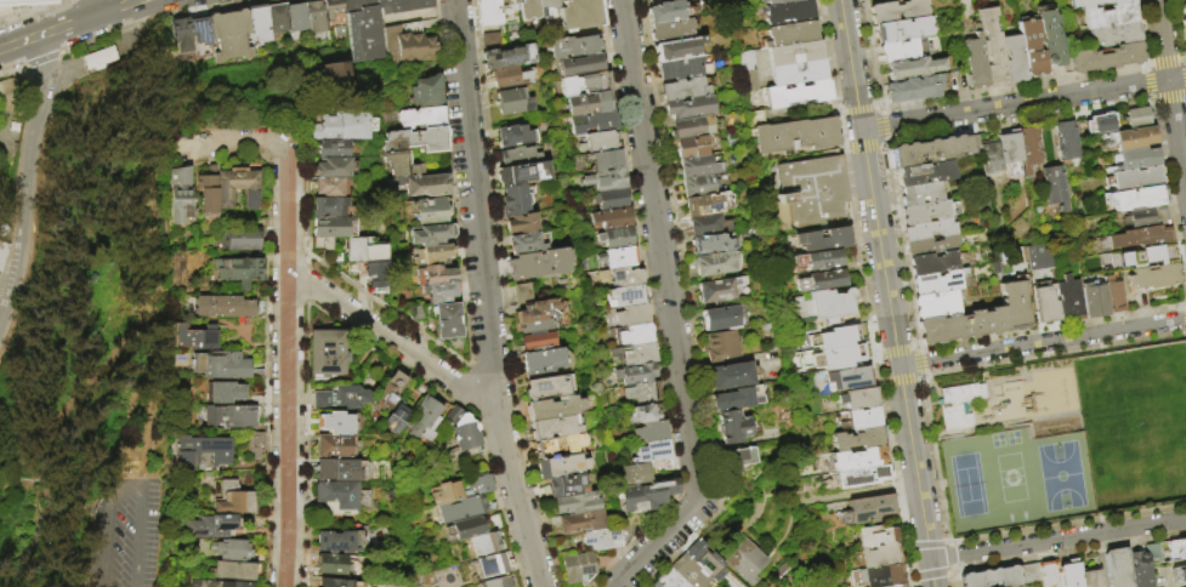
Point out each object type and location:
building: (19, 1)
building: (515, 1)
building: (657, 1)
building: (774, 1)
parking lot: (878, 1)
building: (549, 4)
building: (1095, 4)
road: (93, 7)
road: (27, 8)
building: (529, 8)
building: (896, 10)
building: (668, 11)
building: (488, 12)
building: (788, 12)
building: (580, 15)
building: (335, 16)
building: (1110, 17)
road: (155, 18)
building: (299, 18)
building: (318, 18)
building: (279, 19)
building: (1184, 21)
road: (68, 23)
building: (374, 23)
building: (260, 24)
road: (1178, 28)
building: (902, 29)
building: (671, 30)
road: (1140, 30)
building: (203, 33)
building: (791, 34)
building: (1116, 34)
building: (183, 35)
building: (232, 35)
road: (1162, 39)
building: (1049, 40)
building: (490, 41)
building: (410, 45)
building: (1031, 46)
building: (578, 47)
building: (992, 47)
building: (677, 49)
building: (904, 50)
building: (1185, 51)
building: (795, 53)
road: (1182, 56)
building: (98, 57)
road: (1185, 57)
building: (507, 58)
building: (1012, 58)
building: (1106, 58)
road: (41, 59)
road: (1164, 59)
building: (974, 62)
road: (1145, 64)
building: (583, 65)
road: (1185, 65)
building: (682, 68)
building: (912, 68)
road: (12, 70)
building: (747, 72)
building: (799, 73)
building: (335, 78)
building: (510, 78)
road: (1176, 78)
road: (1147, 82)
building: (588, 84)
building: (685, 89)
building: (912, 90)
building: (429, 91)
building: (799, 95)
road: (1185, 95)
road: (955, 96)
road: (1169, 98)
road: (1151, 101)
building: (513, 102)
building: (591, 104)
road: (1014, 104)
building: (690, 108)
road: (856, 109)
road: (880, 112)
building: (424, 116)
building: (1139, 116)
building: (754, 119)
road: (1017, 119)
building: (595, 122)
road: (883, 125)
building: (1097, 125)
building: (342, 126)
building: (691, 127)
building: (17, 135)
building: (517, 135)
building: (795, 135)
road: (1176, 135)
building: (1134, 137)
building: (430, 139)
building: (1066, 139)
building: (975, 142)
building: (16, 143)
building: (601, 143)
road: (228, 144)
building: (693, 146)
road: (863, 146)
building: (397, 147)
building: (339, 148)
building: (1029, 148)
building: (1010, 149)
building: (930, 150)
building: (520, 156)
building: (992, 156)
building: (1136, 158)
building: (606, 161)
building: (699, 165)
building: (335, 167)
building: (409, 170)
building: (924, 172)
building: (523, 173)
building: (180, 177)
building: (1135, 178)
road: (27, 179)
building: (607, 179)
building: (426, 183)
building: (700, 186)
building: (237, 187)
building: (329, 187)
building: (1055, 187)
building: (807, 190)
building: (181, 193)
building: (920, 193)
building: (208, 194)
building: (1137, 196)
building: (517, 199)
building: (613, 199)
building: (707, 204)
building: (329, 207)
building: (182, 211)
building: (433, 211)
building: (925, 211)
building: (1146, 217)
building: (615, 220)
building: (522, 224)
building: (708, 224)
building: (333, 227)
building: (4, 229)
building: (929, 229)
building: (435, 234)
building: (1137, 238)
building: (242, 239)
building: (618, 239)
building: (824, 239)
building: (529, 243)
building: (322, 244)
building: (713, 244)
road: (900, 244)
building: (934, 245)
building: (363, 251)
building: (435, 253)
building: (4, 255)
building: (1140, 256)
building: (620, 258)
building: (818, 260)
building: (715, 263)
building: (932, 263)
building: (538, 264)
building: (240, 269)
building: (376, 269)
building: (438, 273)
building: (1154, 275)
building: (629, 278)
building: (821, 280)
building: (937, 281)
building: (378, 285)
road: (863, 287)
building: (719, 290)
building: (443, 291)
building: (522, 293)
road: (886, 293)
building: (1112, 295)
road: (484, 296)
road: (501, 296)
building: (630, 296)
building: (1068, 297)
building: (1093, 300)
road: (146, 303)
building: (935, 303)
building: (1046, 303)
building: (823, 304)
building: (1014, 304)
building: (227, 307)
building: (540, 310)
road: (669, 310)
building: (416, 312)
road: (1153, 312)
building: (635, 317)
road: (1184, 317)
building: (721, 318)
building: (449, 319)
building: (960, 325)
building: (537, 326)
building: (637, 335)
building: (194, 337)
road: (391, 337)
building: (538, 341)
road: (1042, 342)
road: (914, 344)
building: (721, 346)
building: (830, 348)
road: (895, 348)
park: (92, 351)
building: (325, 353)
road: (876, 353)
building: (641, 354)
road: (286, 361)
road: (918, 361)
building: (545, 363)
building: (221, 365)
road: (921, 374)
building: (641, 375)
building: (734, 376)
building: (849, 377)
road: (901, 378)
road: (881, 382)
building: (550, 387)
building: (390, 389)
road: (85, 392)
building: (226, 392)
building: (646, 393)
building: (341, 398)
building: (859, 398)
building: (738, 399)
building: (960, 406)
building: (554, 408)
building: (647, 414)
building: (454, 415)
building: (232, 416)
building: (397, 417)
building: (425, 418)
building: (861, 418)
building: (337, 422)
building: (556, 427)
building: (733, 427)
building: (654, 433)
building: (469, 437)
park: (1062, 437)
building: (859, 438)
building: (256, 446)
building: (334, 446)
building: (561, 446)
road: (929, 446)
building: (203, 451)
building: (656, 452)
building: (856, 458)
building: (738, 460)
building: (561, 466)
building: (329, 469)
building: (643, 472)
building: (861, 475)
park: (1059, 475)
park: (965, 484)
road: (127, 485)
building: (479, 485)
building: (567, 485)
road: (855, 492)
building: (446, 494)
building: (648, 495)
building: (339, 496)
building: (233, 498)
building: (578, 503)
building: (465, 509)
building: (869, 509)
building: (256, 522)
building: (579, 522)
building: (492, 523)
building: (210, 526)
building: (467, 528)
parking lot: (127, 531)
building: (625, 531)
road: (636, 536)
building: (874, 536)
road: (1057, 537)
building: (603, 538)
building: (337, 541)
building: (489, 542)
road: (943, 542)
road: (925, 543)
road: (948, 543)
building: (1185, 543)
road: (907, 545)
building: (1178, 549)
building: (233, 551)
road: (1060, 552)
building: (1164, 552)
building: (1152, 553)
road: (950, 555)
building: (878, 557)
building: (747, 559)
building: (707, 560)
building: (333, 565)
building: (494, 565)
building: (579, 568)
building: (1118, 568)
road: (952, 569)
building: (1139, 569)
building: (234, 570)
building: (691, 572)
road: (948, 572)
road: (931, 574)
building: (1029, 574)
building: (1050, 574)
building: (1069, 574)
building: (876, 575)
building: (1179, 575)
building: (448, 576)
building: (993, 577)
road: (912, 579)
building: (1091, 579)
building: (671, 580)
building: (501, 581)
building: (220, 583)
building: (337, 583)
building: (890, 583)
building: (657, 585)
building: (1020, 586)

